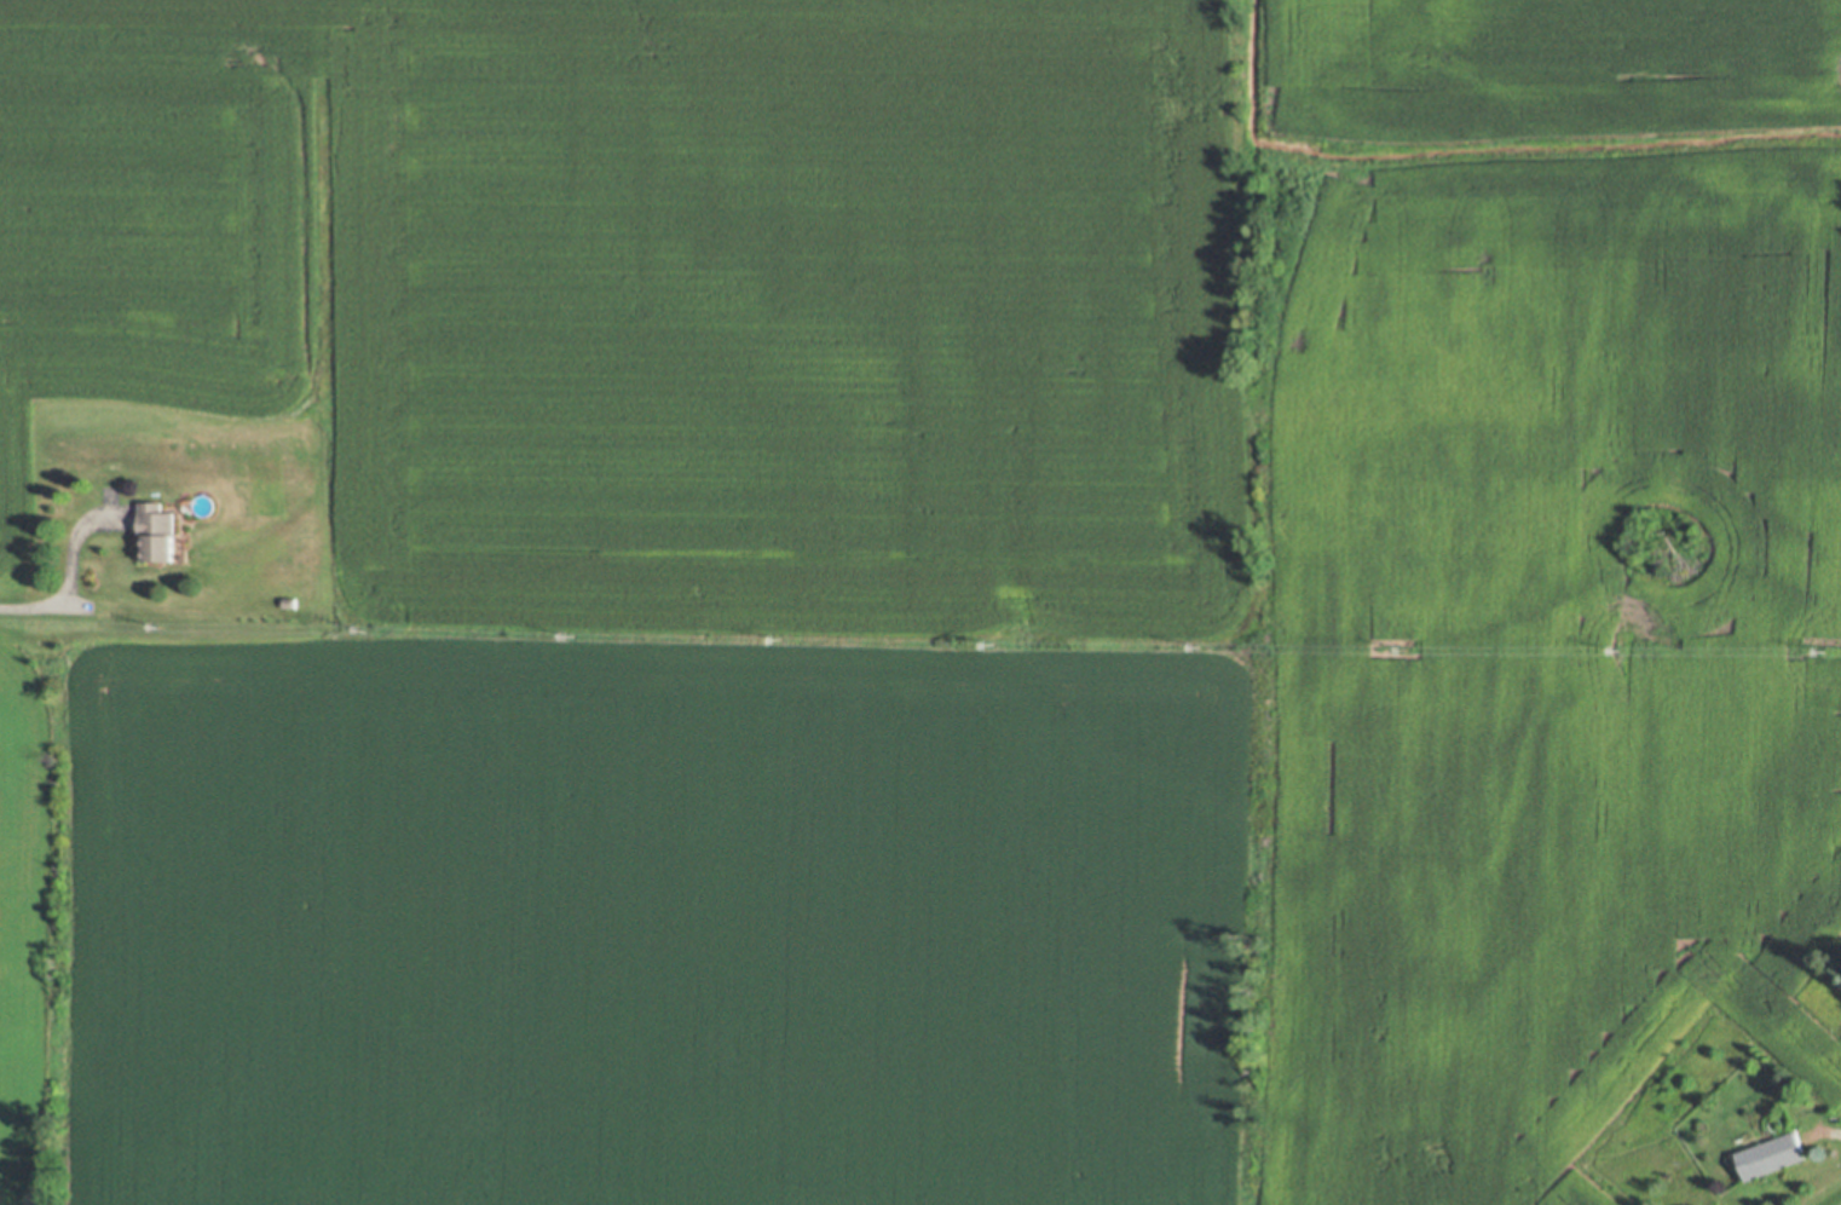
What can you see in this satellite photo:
building: (157, 524)
road: (70, 571)
building: (290, 596)
building: (1773, 1151)

